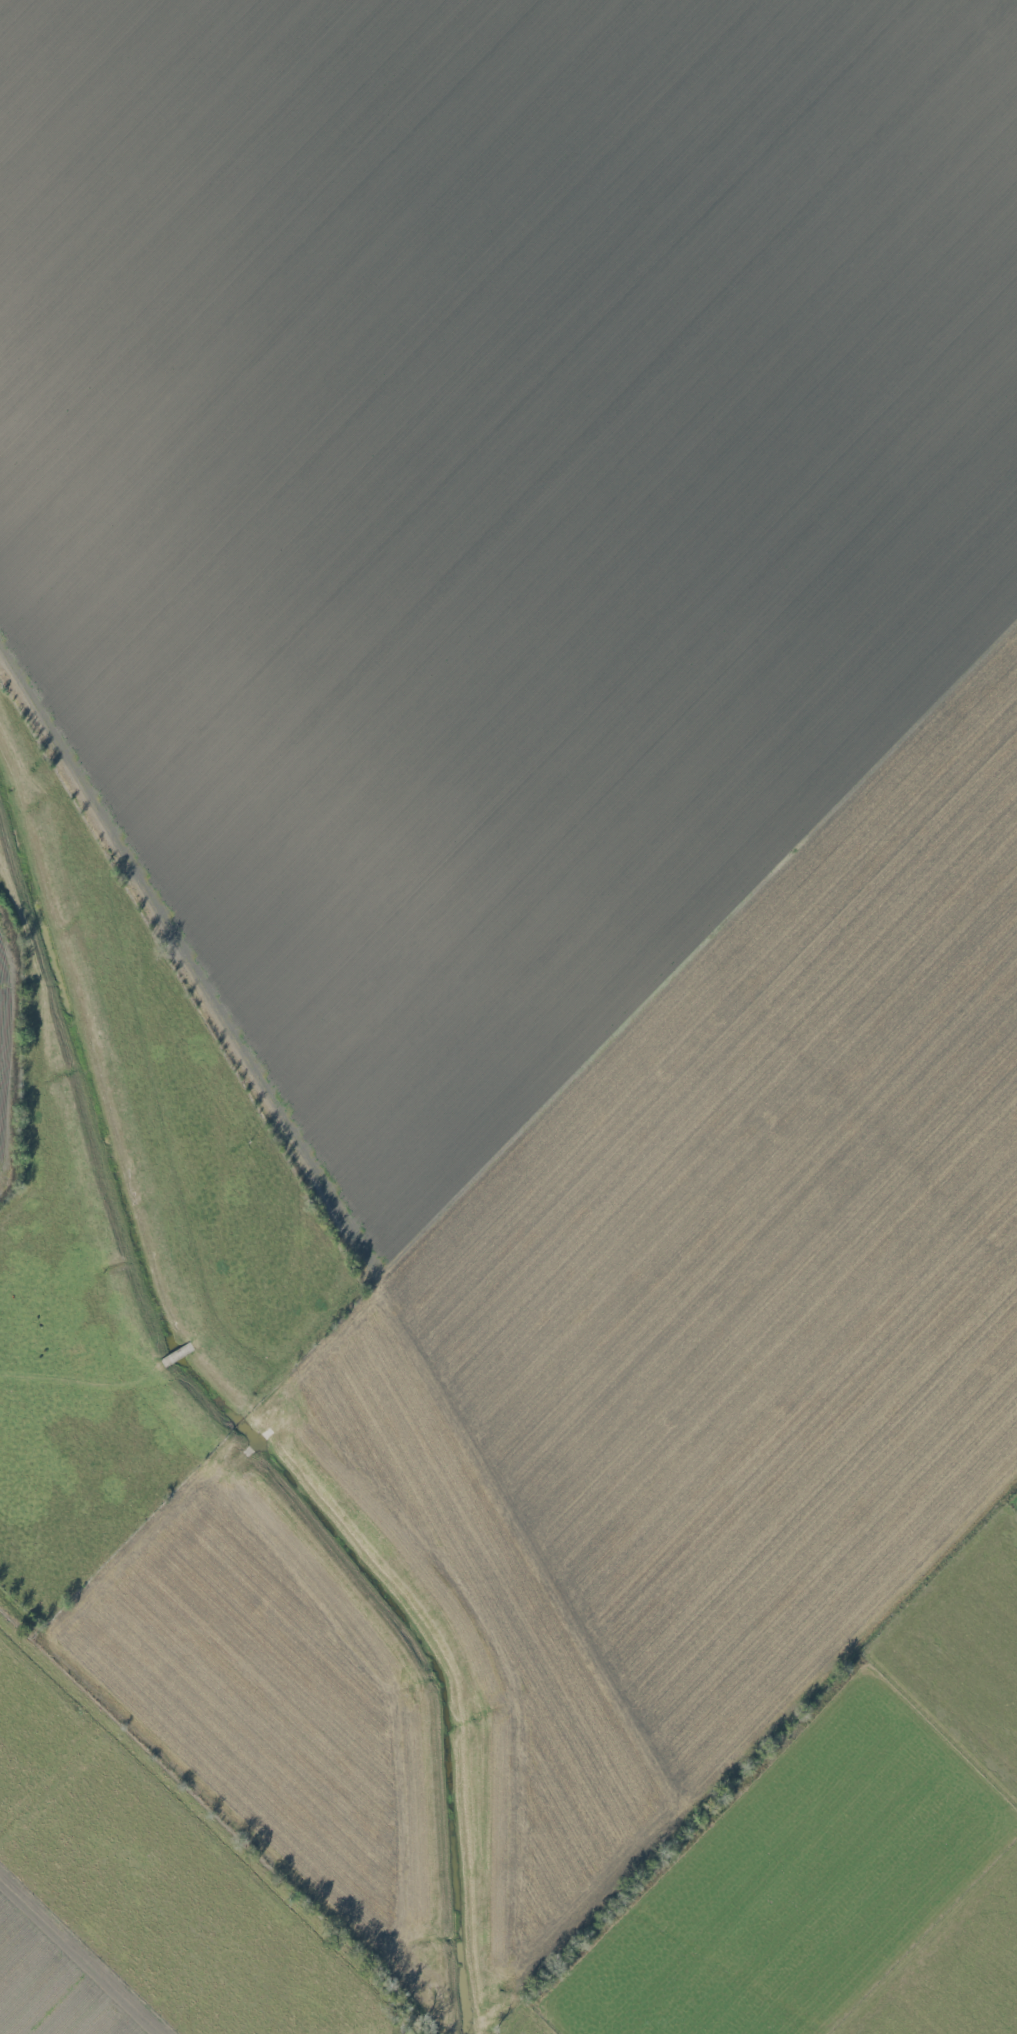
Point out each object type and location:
road: (765, 1769)
road: (223, 1821)

